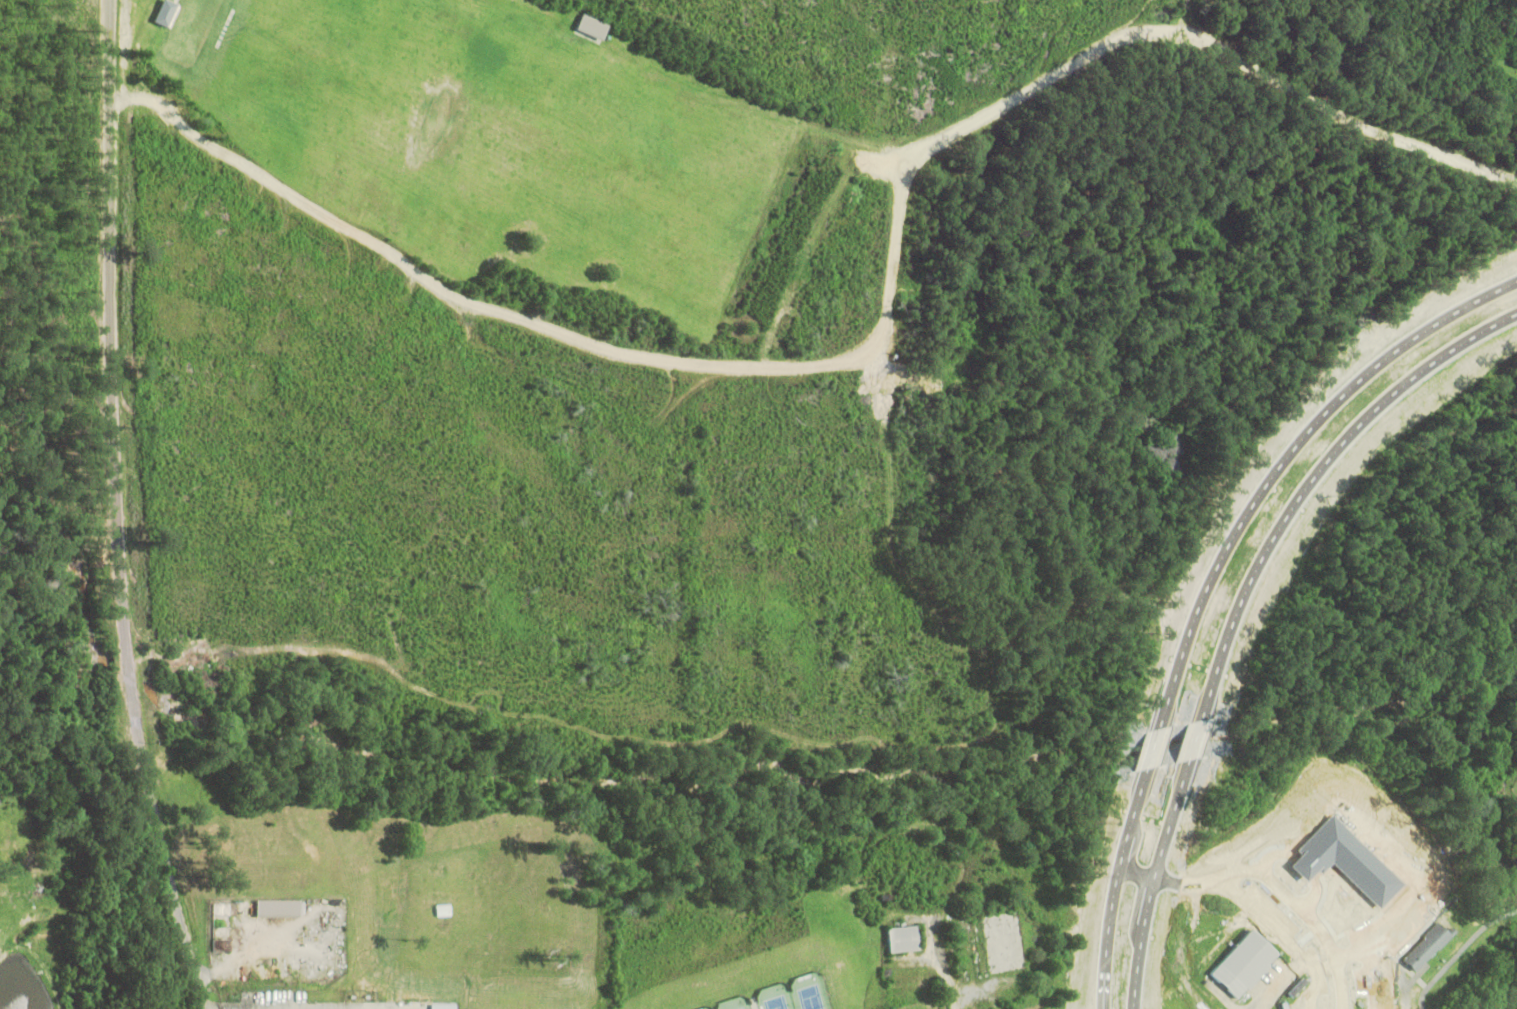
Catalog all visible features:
building: (167, 13)
building: (592, 26)
road: (1278, 454)
road: (1306, 474)
road: (116, 509)
road: (1192, 738)
road: (1150, 746)
park: (1515, 786)
road: (1132, 871)
road: (1148, 878)
road: (1112, 885)
building: (280, 907)
road: (1304, 910)
road: (1256, 911)
building: (1337, 927)
building: (900, 937)
building: (1422, 946)
building: (1241, 963)
park: (807, 991)
park: (772, 996)
park: (731, 1003)
road: (1128, 1007)
road: (1128, 1007)
park: (701, 1008)

